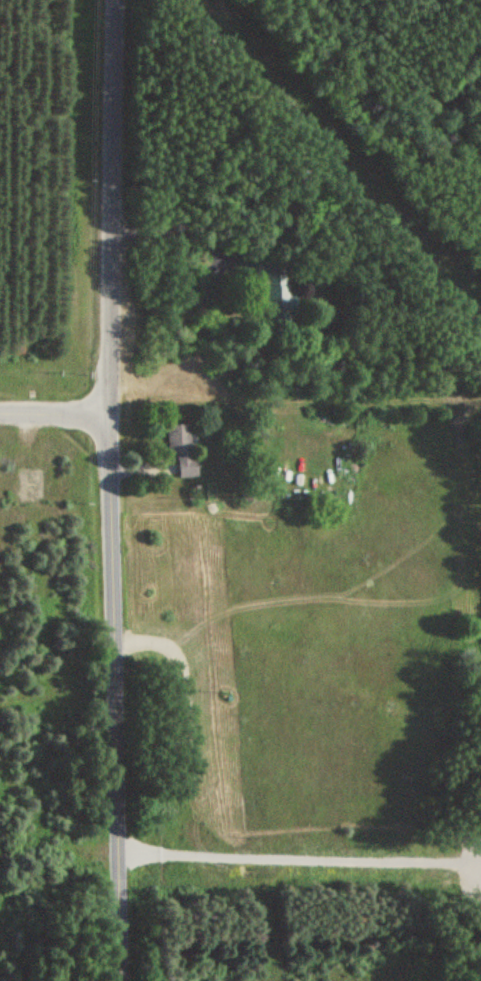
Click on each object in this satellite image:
road: (112, 205)
road: (178, 227)
building: (222, 268)
building: (279, 305)
road: (55, 411)
building: (181, 448)
road: (117, 696)

